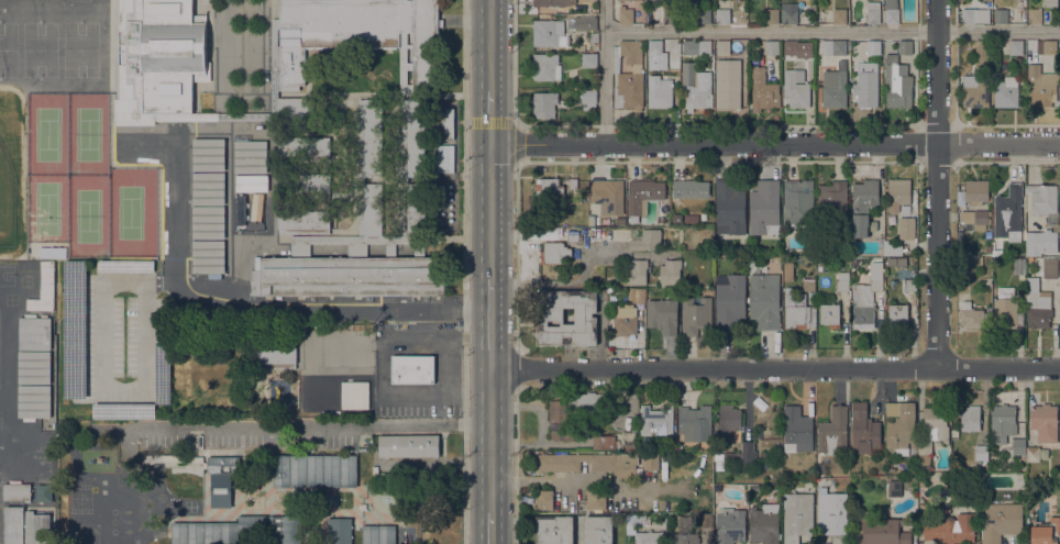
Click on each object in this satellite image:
building: (553, 2)
building: (1050, 3)
building: (892, 11)
building: (873, 12)
building: (626, 15)
building: (790, 15)
building: (975, 15)
building: (1001, 15)
building: (1035, 15)
building: (670, 16)
building: (704, 16)
building: (722, 16)
building: (772, 16)
building: (839, 16)
building: (585, 23)
road: (831, 29)
building: (548, 34)
building: (354, 36)
building: (582, 43)
building: (811, 43)
building: (817, 43)
road: (490, 45)
building: (1046, 46)
building: (655, 47)
building: (696, 47)
building: (722, 47)
building: (771, 47)
building: (790, 47)
building: (835, 47)
building: (873, 47)
building: (1016, 47)
building: (818, 51)
building: (982, 53)
building: (589, 59)
building: (158, 60)
road: (515, 62)
building: (546, 67)
road: (604, 71)
building: (628, 75)
building: (898, 78)
building: (866, 85)
building: (728, 87)
building: (1041, 87)
building: (695, 88)
building: (796, 88)
building: (833, 88)
building: (763, 90)
building: (975, 91)
building: (659, 92)
building: (1006, 92)
building: (588, 99)
building: (544, 104)
building: (296, 111)
building: (243, 113)
road: (490, 116)
road: (489, 122)
building: (445, 124)
road: (515, 141)
traffic signals: (490, 143)
road: (775, 143)
building: (303, 148)
building: (208, 154)
building: (251, 157)
building: (445, 158)
building: (371, 166)
building: (413, 166)
building: (252, 182)
building: (573, 184)
road: (936, 184)
building: (303, 185)
building: (691, 188)
building: (208, 189)
building: (550, 189)
building: (976, 191)
building: (898, 193)
building: (608, 196)
building: (642, 197)
building: (1042, 198)
building: (798, 203)
building: (832, 203)
building: (863, 206)
building: (730, 207)
building: (764, 208)
road: (490, 210)
building: (1008, 212)
building: (692, 218)
building: (975, 219)
building: (252, 220)
building: (592, 220)
building: (208, 222)
building: (303, 222)
building: (906, 229)
building: (546, 232)
building: (960, 236)
building: (574, 237)
building: (1059, 238)
building: (647, 241)
building: (1040, 243)
building: (987, 249)
building: (48, 252)
building: (554, 253)
building: (996, 253)
road: (516, 255)
building: (209, 256)
building: (852, 260)
building: (971, 264)
building: (126, 266)
building: (1019, 266)
building: (1050, 267)
building: (350, 269)
building: (787, 270)
road: (463, 271)
building: (637, 271)
building: (670, 273)
building: (1059, 279)
building: (842, 281)
building: (824, 284)
building: (808, 285)
building: (909, 285)
building: (638, 295)
building: (730, 300)
building: (865, 300)
building: (764, 301)
road: (257, 306)
building: (1006, 309)
building: (797, 310)
building: (1040, 311)
building: (695, 314)
building: (663, 315)
building: (830, 315)
building: (898, 317)
building: (973, 317)
building: (34, 319)
building: (551, 319)
road: (490, 322)
building: (628, 324)
building: (75, 329)
road: (426, 333)
building: (35, 336)
building: (276, 357)
building: (34, 367)
road: (775, 367)
building: (412, 368)
road: (516, 368)
building: (163, 373)
building: (338, 395)
building: (34, 401)
building: (124, 411)
building: (576, 412)
building: (970, 419)
building: (658, 421)
building: (727, 421)
building: (1045, 422)
building: (695, 423)
building: (1002, 423)
road: (319, 425)
building: (899, 426)
building: (798, 429)
building: (864, 430)
building: (833, 432)
building: (932, 432)
building: (954, 434)
road: (490, 440)
building: (604, 442)
building: (408, 445)
building: (1018, 446)
building: (1033, 454)
building: (743, 455)
building: (763, 455)
building: (982, 457)
building: (651, 460)
building: (590, 463)
road: (516, 465)
building: (314, 470)
building: (222, 479)
road: (566, 484)
building: (894, 489)
building: (16, 490)
building: (43, 492)
building: (545, 500)
building: (596, 500)
building: (578, 504)
building: (832, 515)
building: (797, 517)
building: (705, 520)
building: (631, 522)
building: (1002, 522)
building: (684, 524)
building: (764, 524)
building: (14, 525)
building: (730, 525)
building: (37, 528)
road: (490, 529)
building: (948, 529)
building: (217, 530)
building: (285, 530)
building: (554, 530)
building: (598, 530)
building: (883, 530)
building: (339, 531)
building: (1047, 533)
building: (378, 534)
building: (649, 537)
building: (684, 537)

